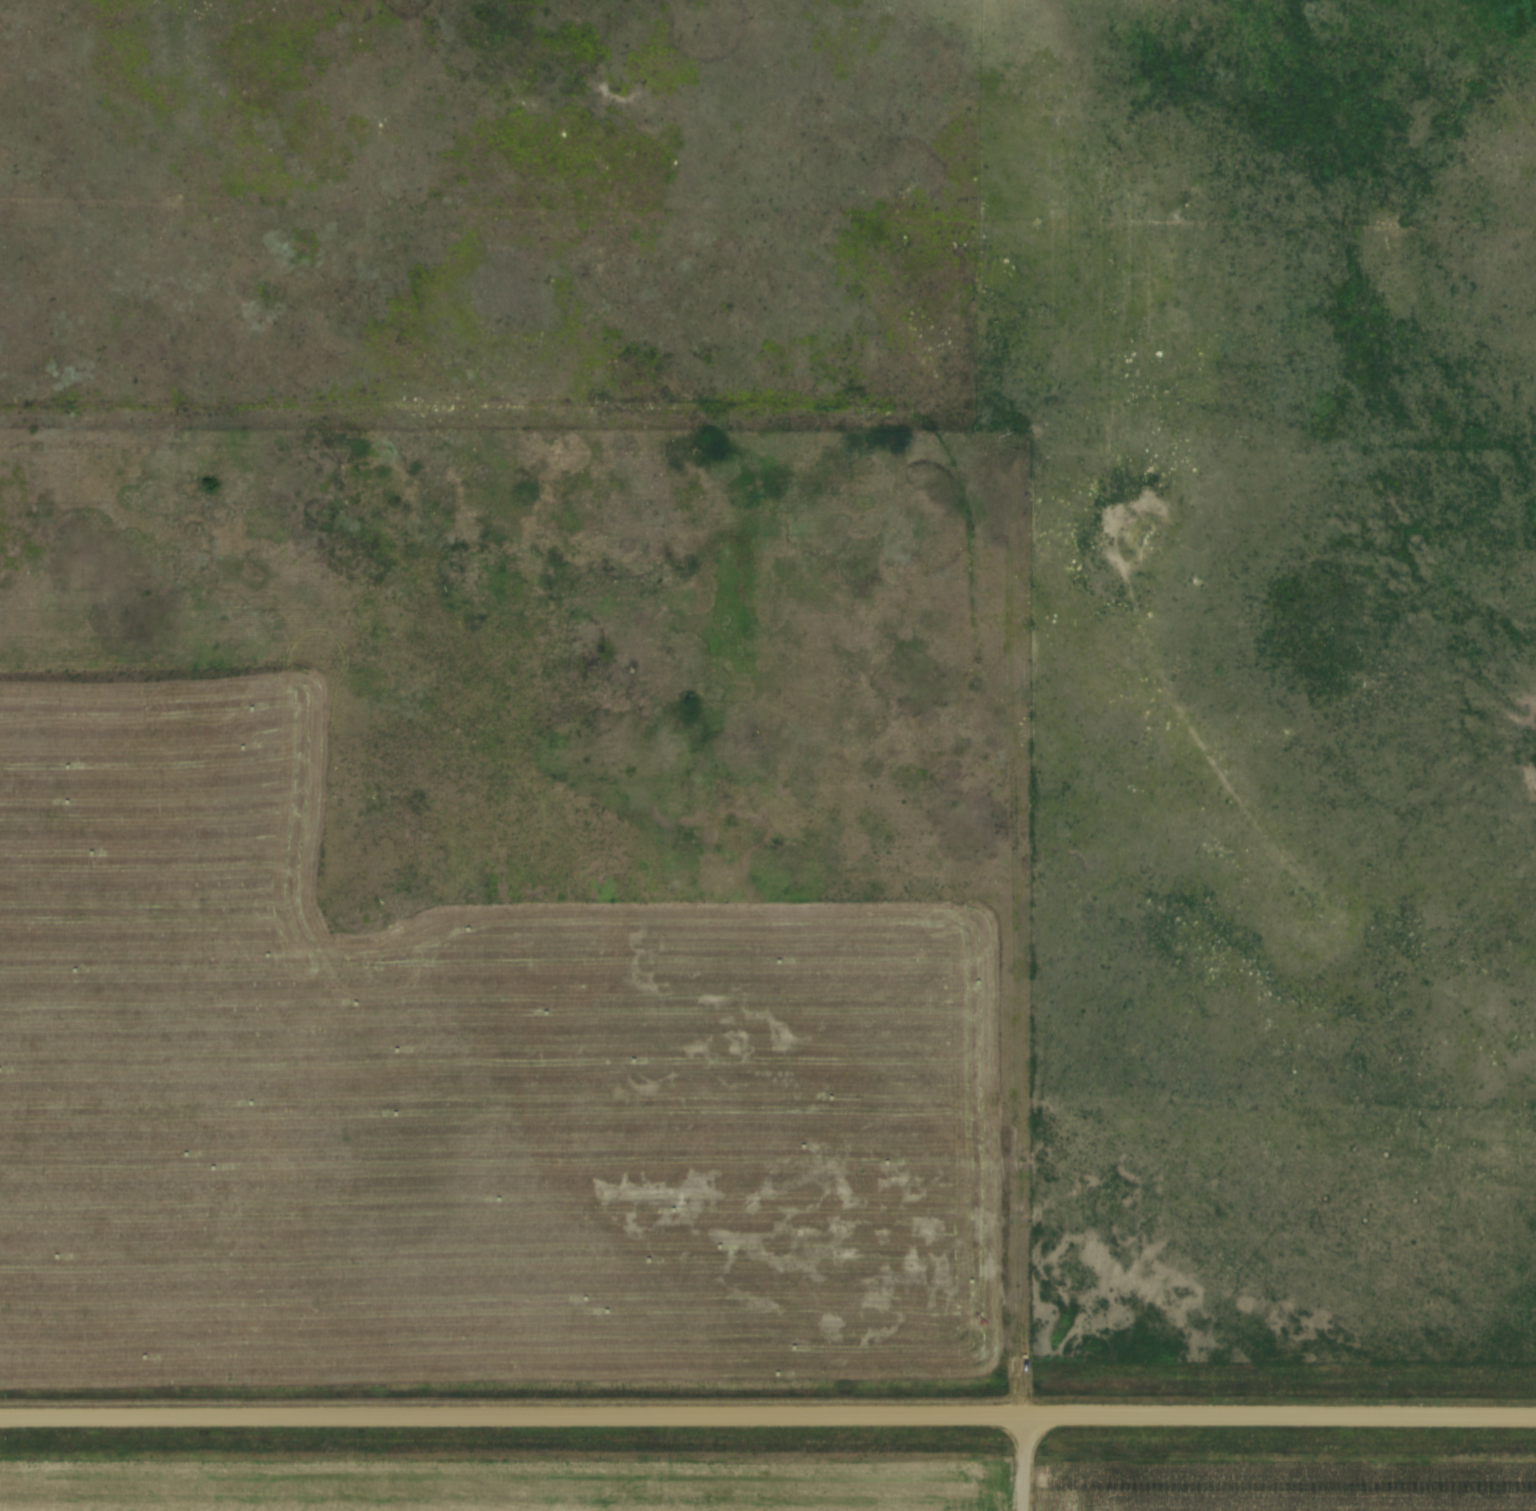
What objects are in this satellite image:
road: (768, 1416)
road: (1037, 1463)

